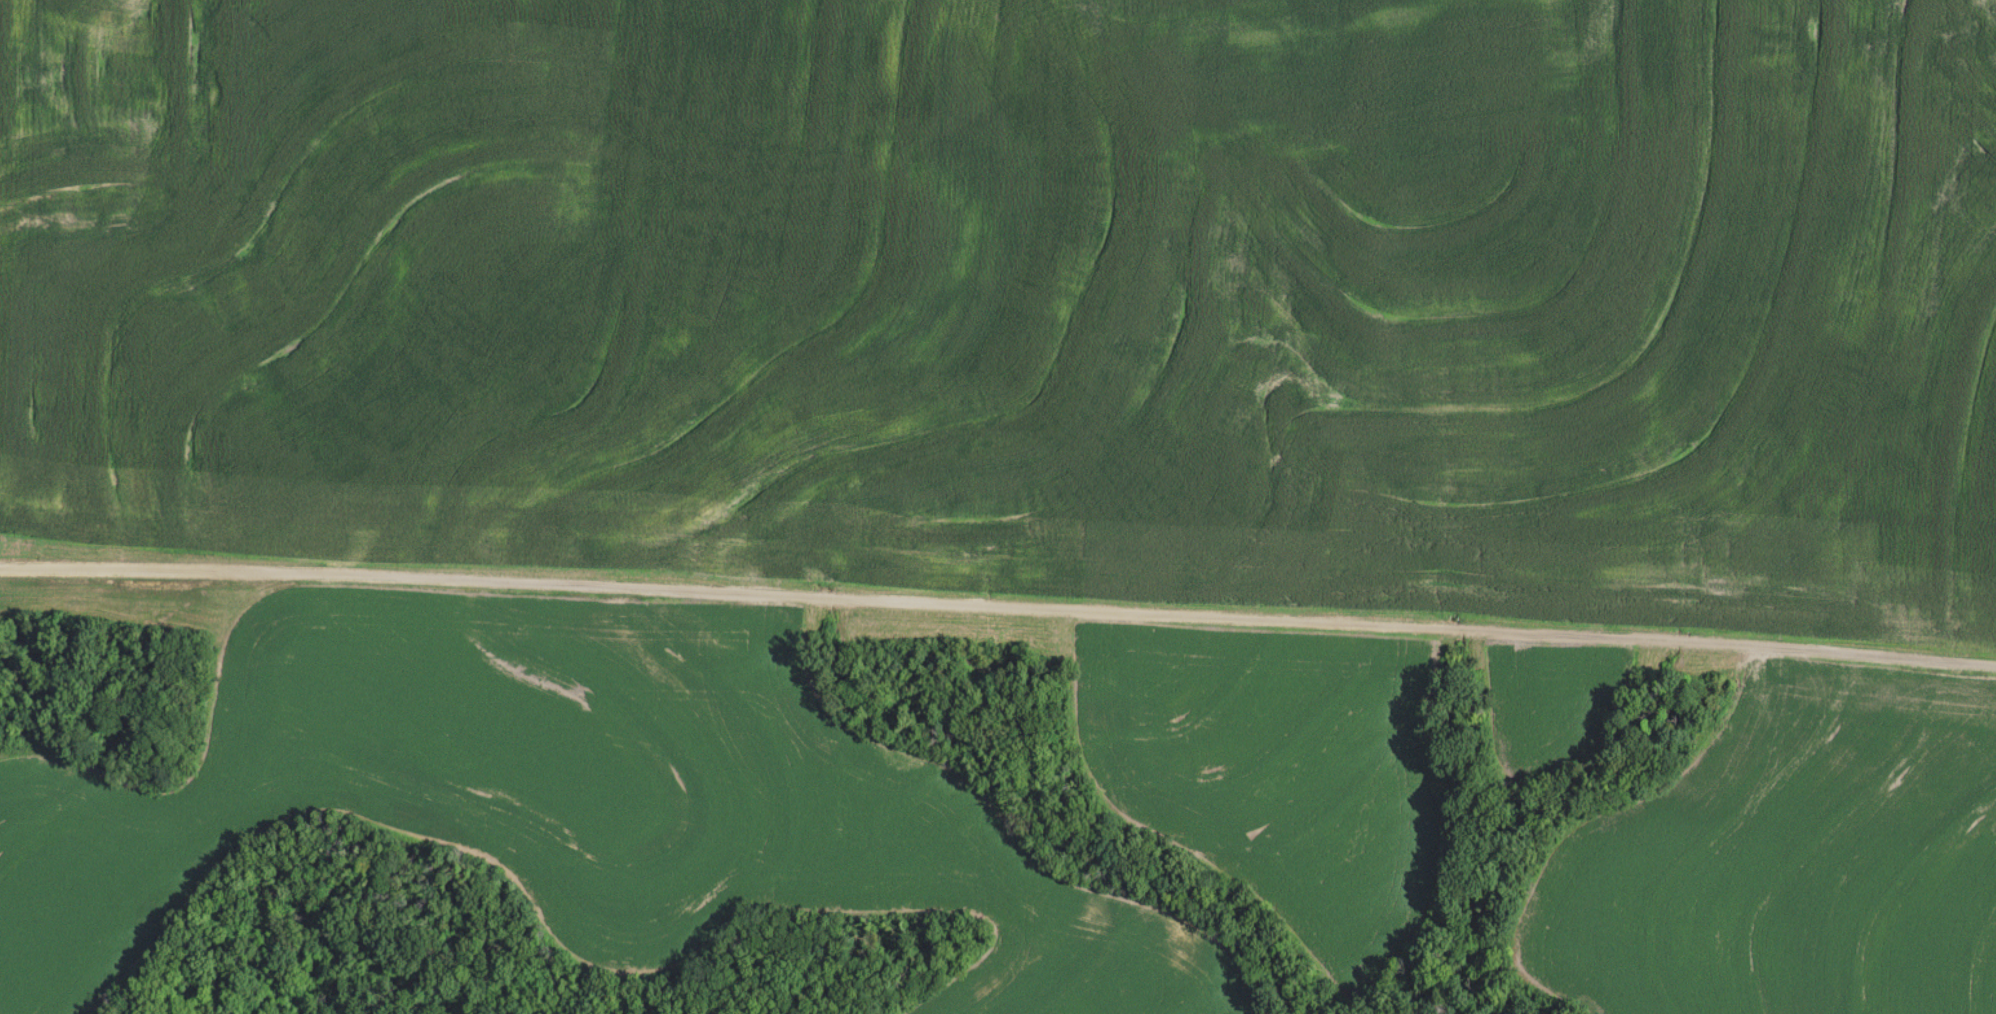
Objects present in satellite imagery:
road: (998, 603)

